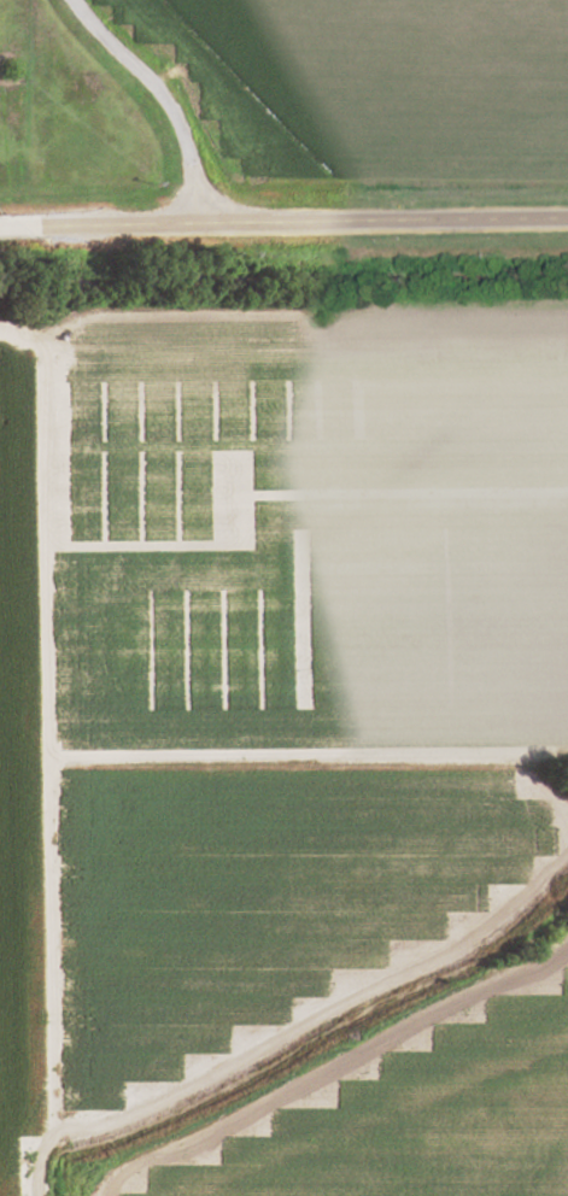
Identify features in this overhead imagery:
road: (158, 95)
road: (283, 221)

